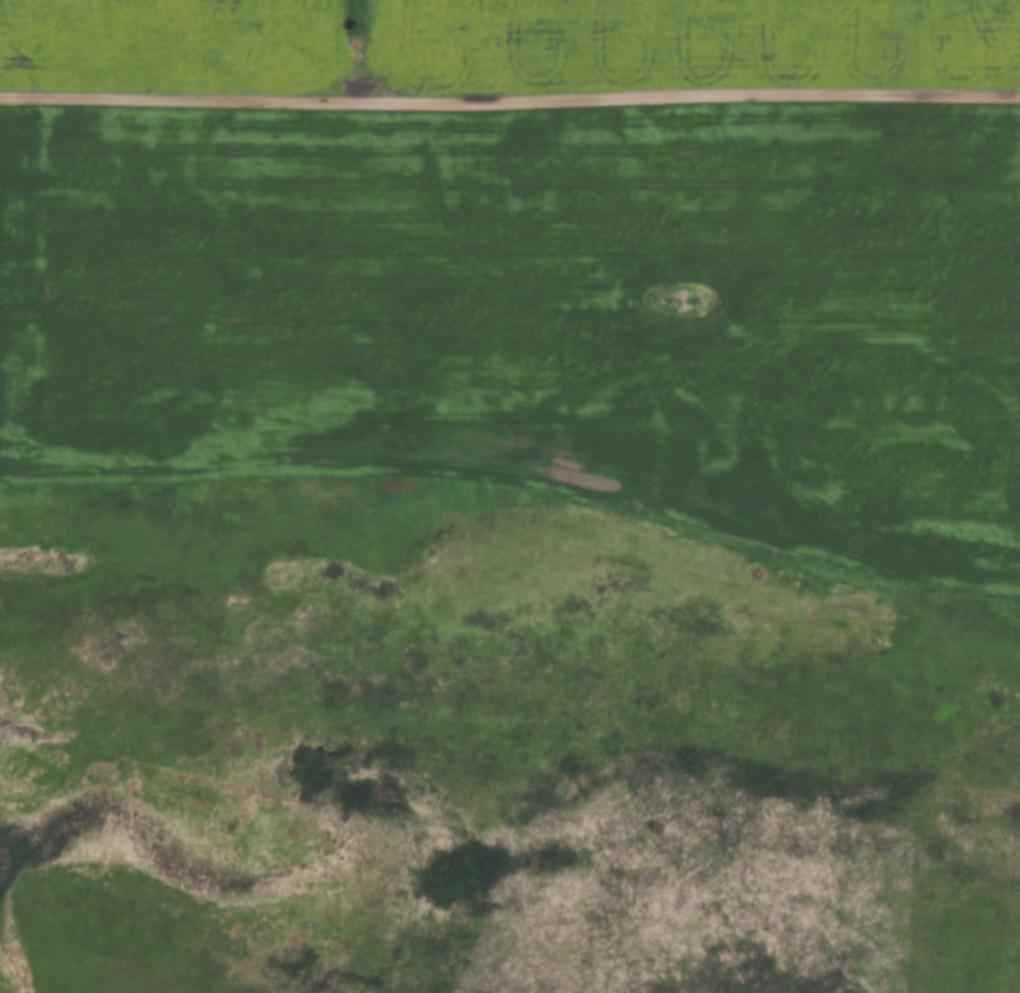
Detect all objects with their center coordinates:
road: (510, 95)

